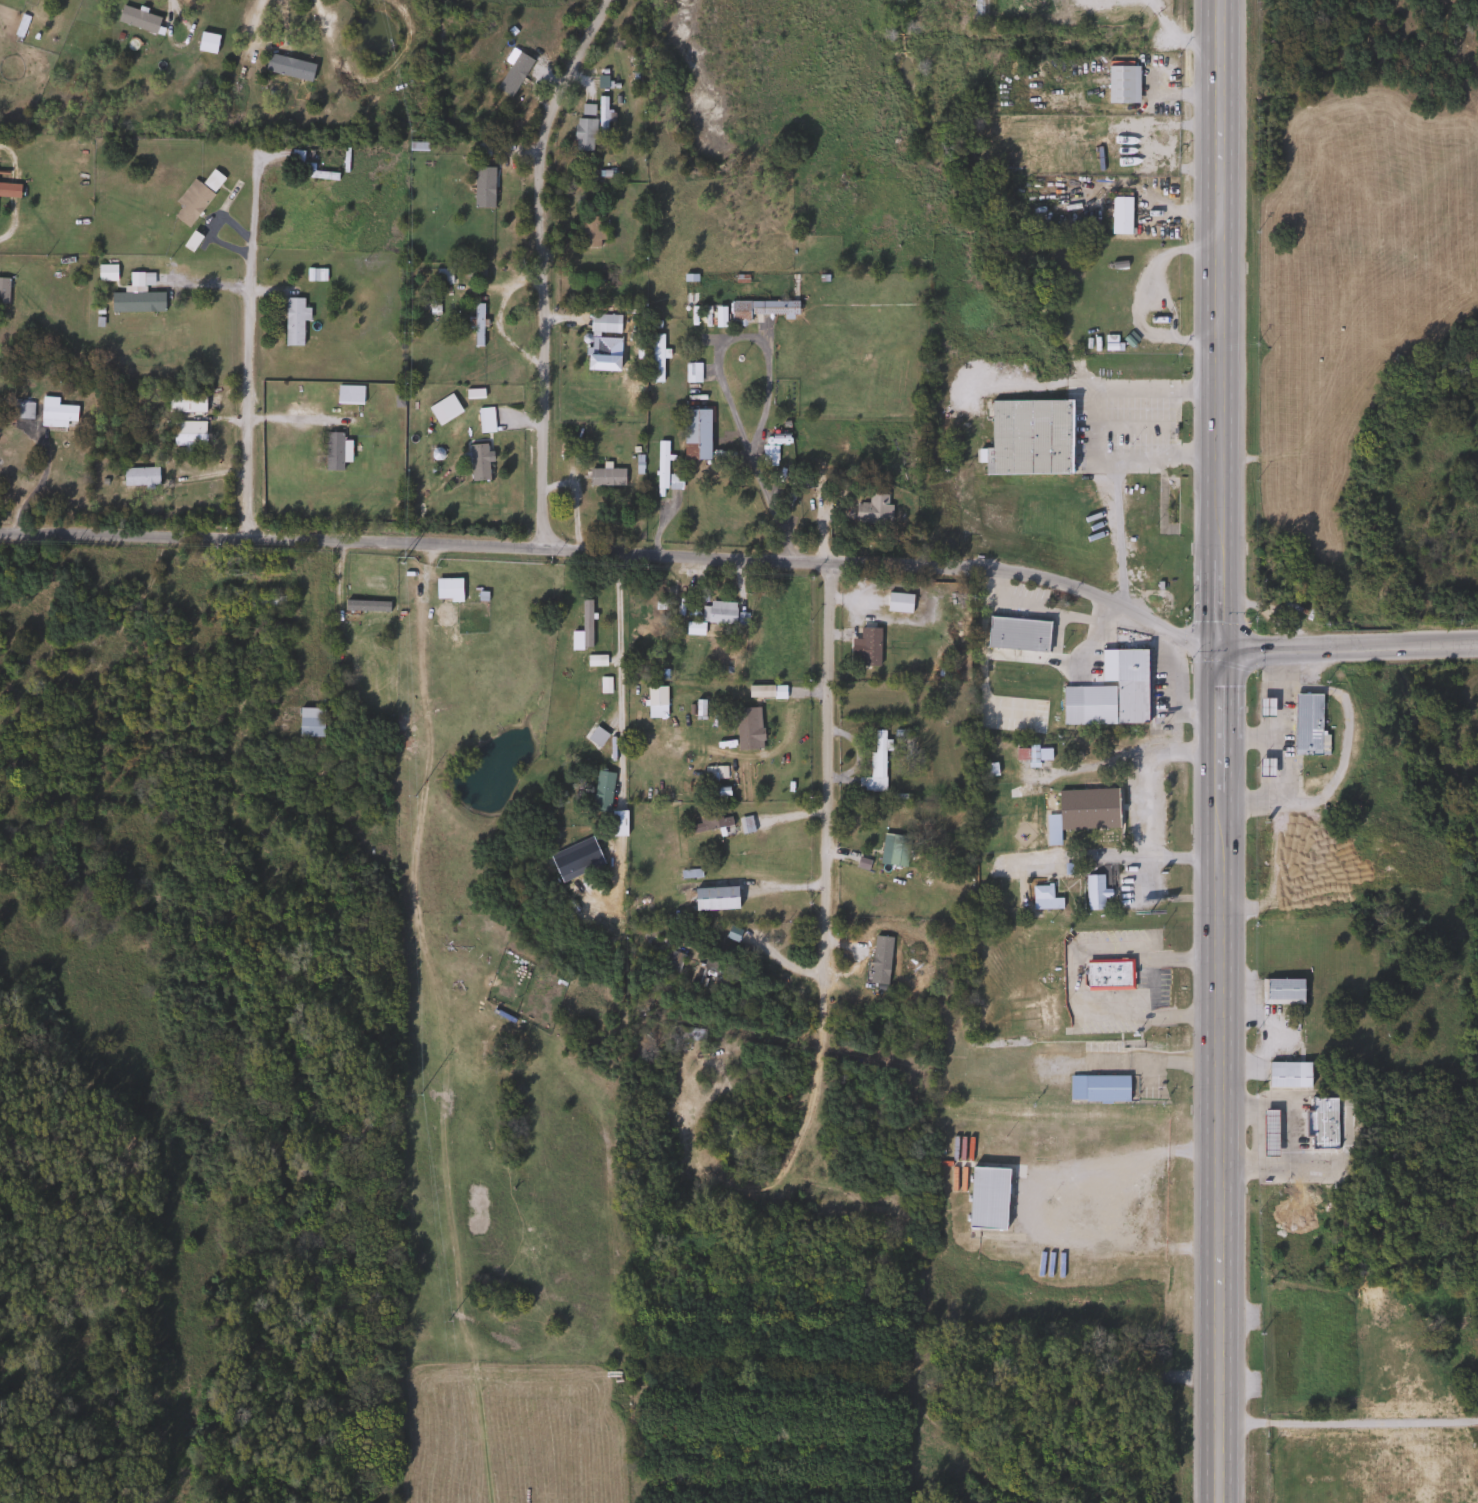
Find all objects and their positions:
road: (171, 8)
building: (136, 19)
building: (205, 43)
road: (265, 44)
building: (283, 67)
building: (1121, 84)
building: (600, 117)
power tower: (416, 131)
building: (582, 134)
building: (298, 163)
building: (477, 185)
building: (8, 189)
building: (193, 197)
building: (1119, 214)
building: (589, 232)
road: (538, 268)
building: (441, 275)
building: (2, 290)
road: (1135, 298)
building: (135, 301)
building: (758, 309)
building: (292, 320)
building: (476, 324)
power tower: (410, 333)
road: (245, 338)
building: (653, 358)
building: (690, 372)
road: (720, 380)
building: (347, 394)
building: (184, 402)
road: (1221, 405)
building: (20, 410)
building: (55, 415)
building: (484, 420)
road: (1088, 424)
building: (186, 433)
building: (694, 434)
building: (1027, 437)
building: (331, 451)
building: (766, 452)
building: (476, 462)
building: (660, 464)
building: (138, 477)
building: (604, 477)
road: (36, 485)
building: (871, 510)
road: (1118, 535)
road: (457, 546)
power tower: (403, 564)
road: (1072, 587)
building: (269, 601)
building: (897, 603)
building: (360, 609)
road: (1043, 609)
building: (717, 612)
building: (584, 623)
building: (1016, 634)
building: (866, 647)
road: (1348, 649)
road: (1022, 657)
road: (615, 677)
building: (1117, 693)
road: (1169, 694)
building: (654, 702)
building: (1264, 707)
building: (309, 722)
building: (1306, 723)
building: (746, 728)
building: (595, 736)
road: (1277, 738)
road: (1341, 753)
building: (1036, 754)
building: (874, 762)
building: (1264, 768)
road: (1278, 772)
road: (822, 774)
building: (600, 790)
power tower: (414, 796)
road: (1143, 807)
road: (1025, 816)
building: (709, 822)
building: (616, 824)
building: (1051, 829)
road: (1219, 835)
building: (893, 850)
building: (687, 874)
building: (1091, 892)
building: (714, 899)
building: (1042, 899)
road: (1219, 908)
road: (773, 954)
building: (867, 961)
building: (669, 964)
building: (701, 971)
road: (1075, 974)
building: (1107, 975)
road: (1219, 987)
building: (1281, 990)
road: (1174, 1062)
building: (1287, 1075)
building: (1096, 1088)
power tower: (419, 1095)
building: (1321, 1130)
building: (1268, 1133)
road: (1291, 1137)
building: (987, 1199)
road: (1110, 1199)
road: (1220, 1259)
power tower: (448, 1320)
road: (1349, 1421)

